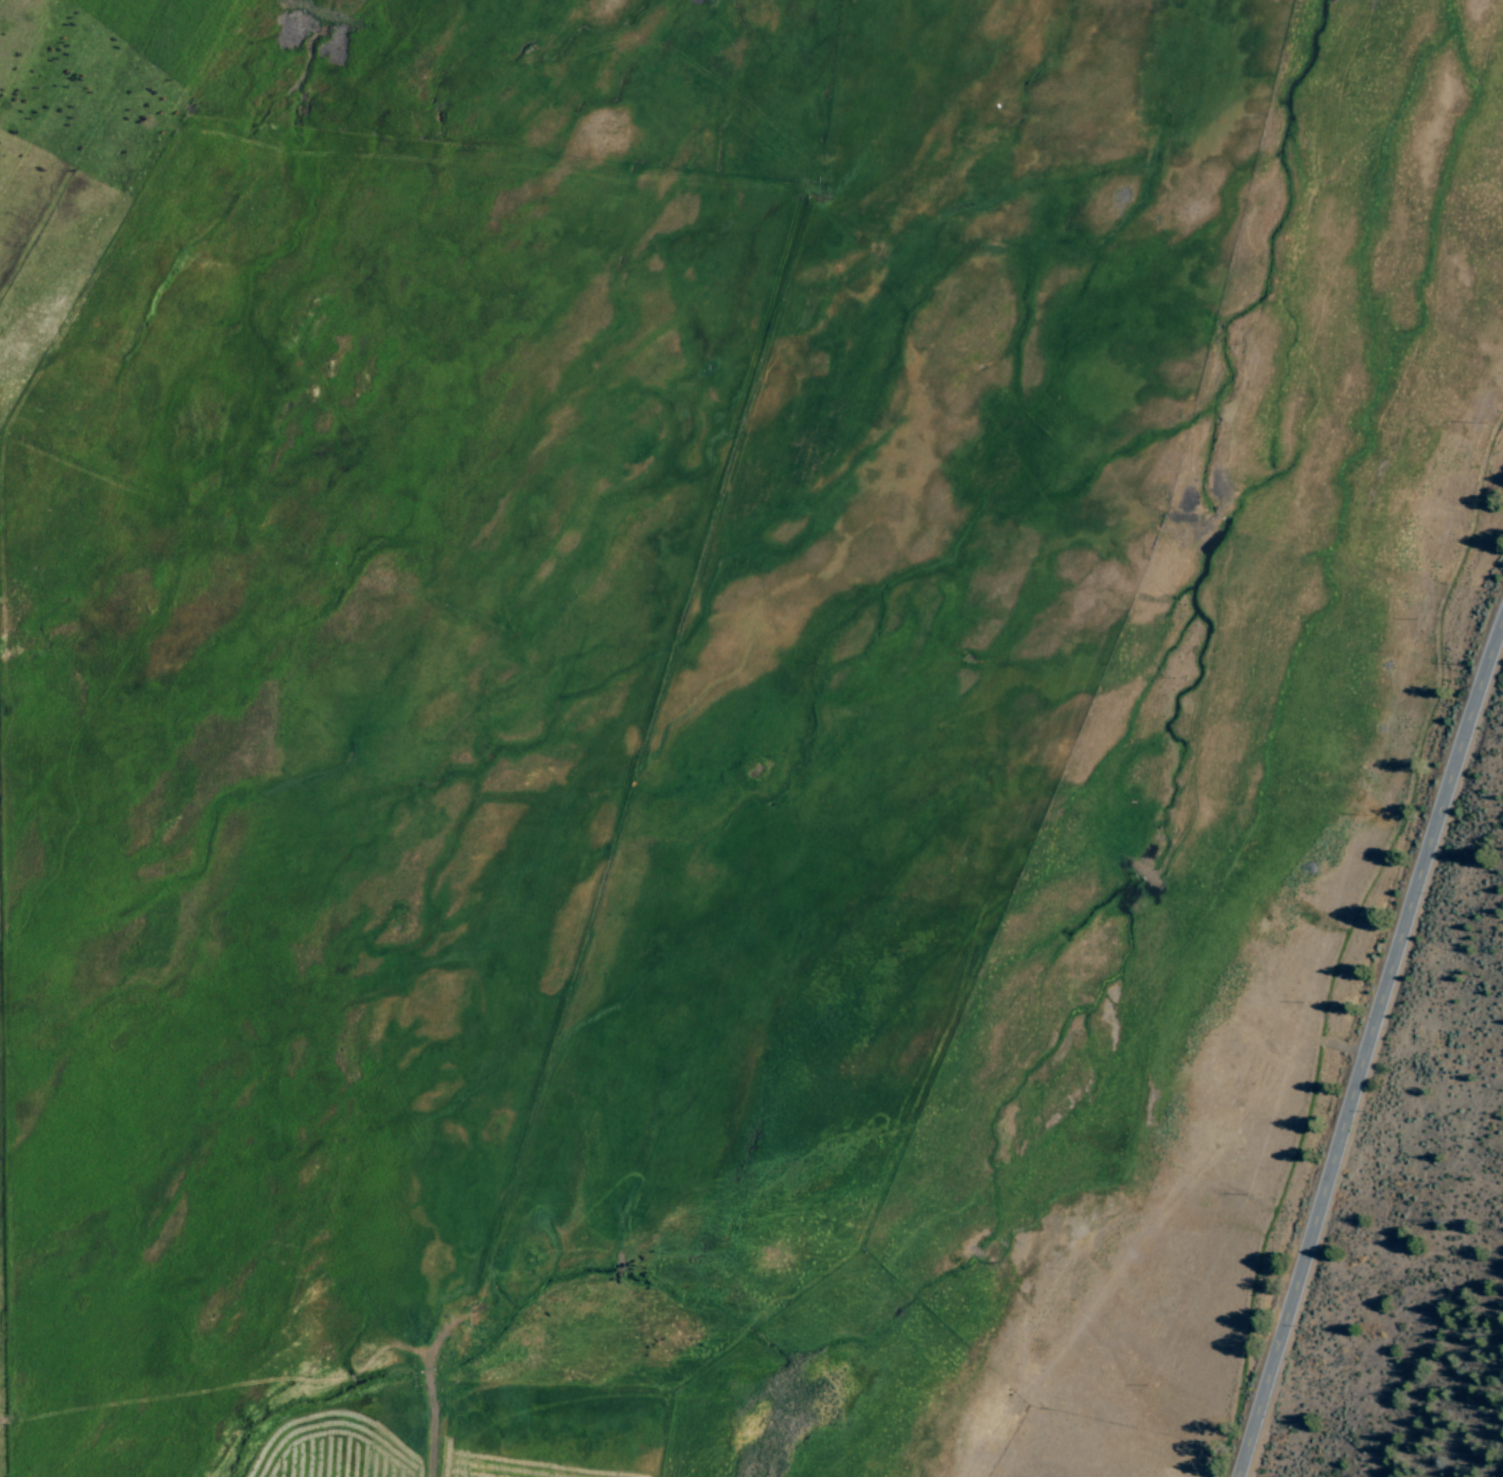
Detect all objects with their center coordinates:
road: (1370, 1055)

